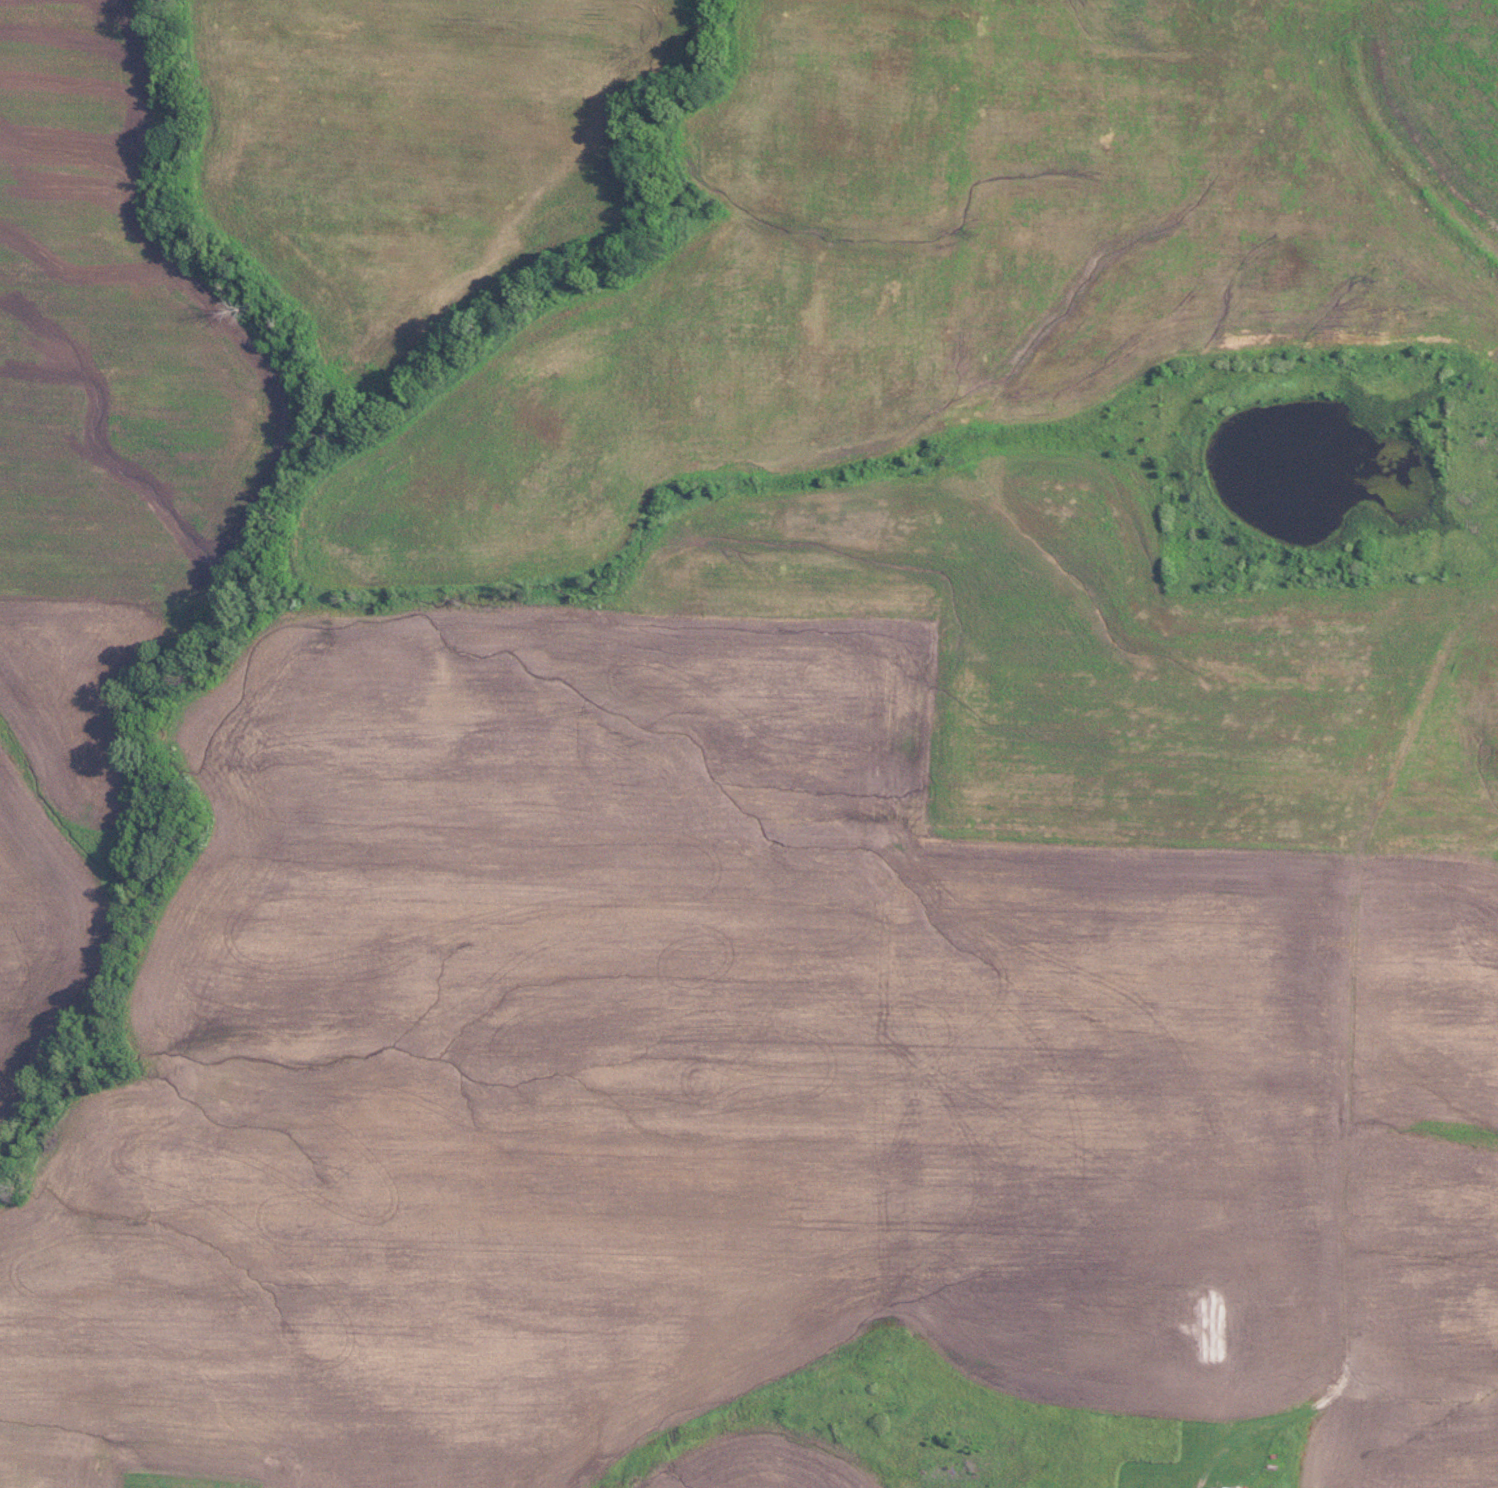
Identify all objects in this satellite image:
building: (1223, 1487)

